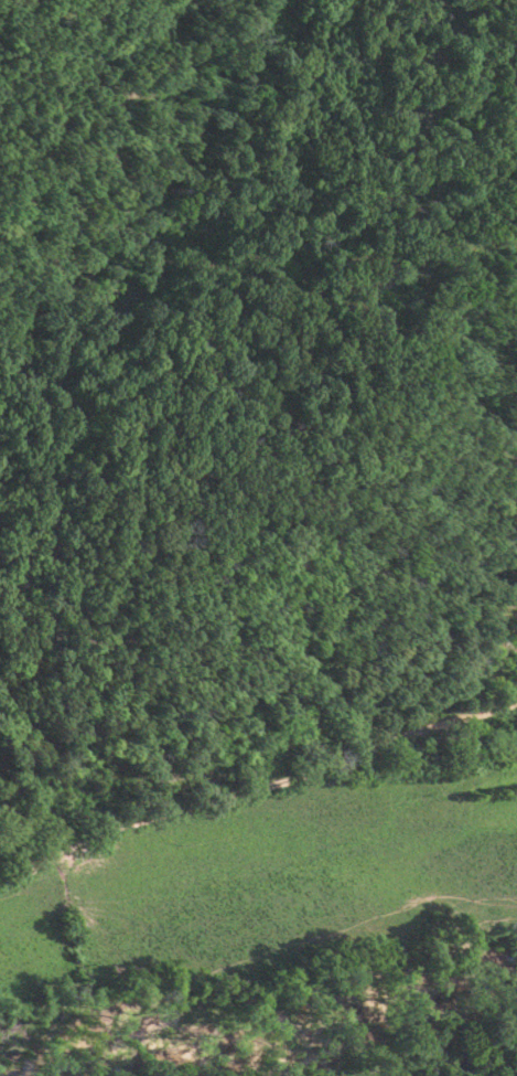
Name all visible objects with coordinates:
road: (470, 691)
road: (256, 781)
road: (103, 960)

